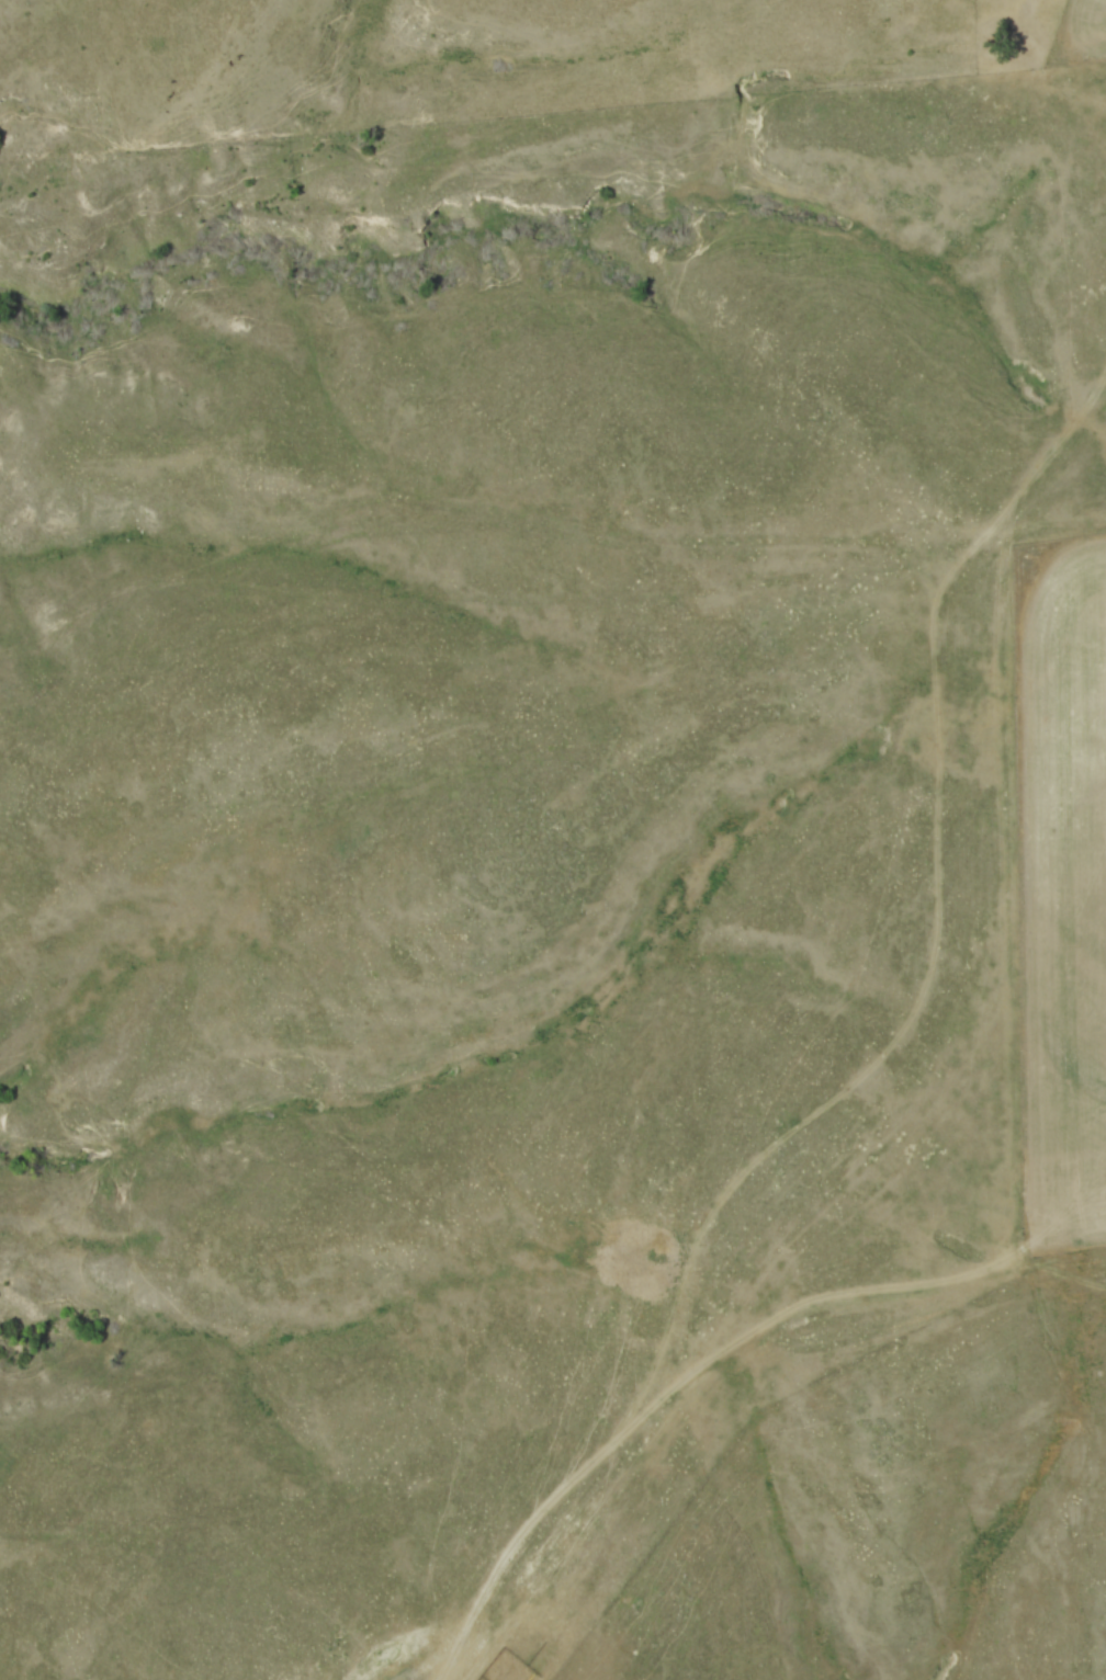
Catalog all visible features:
crop: (1082, 23)

